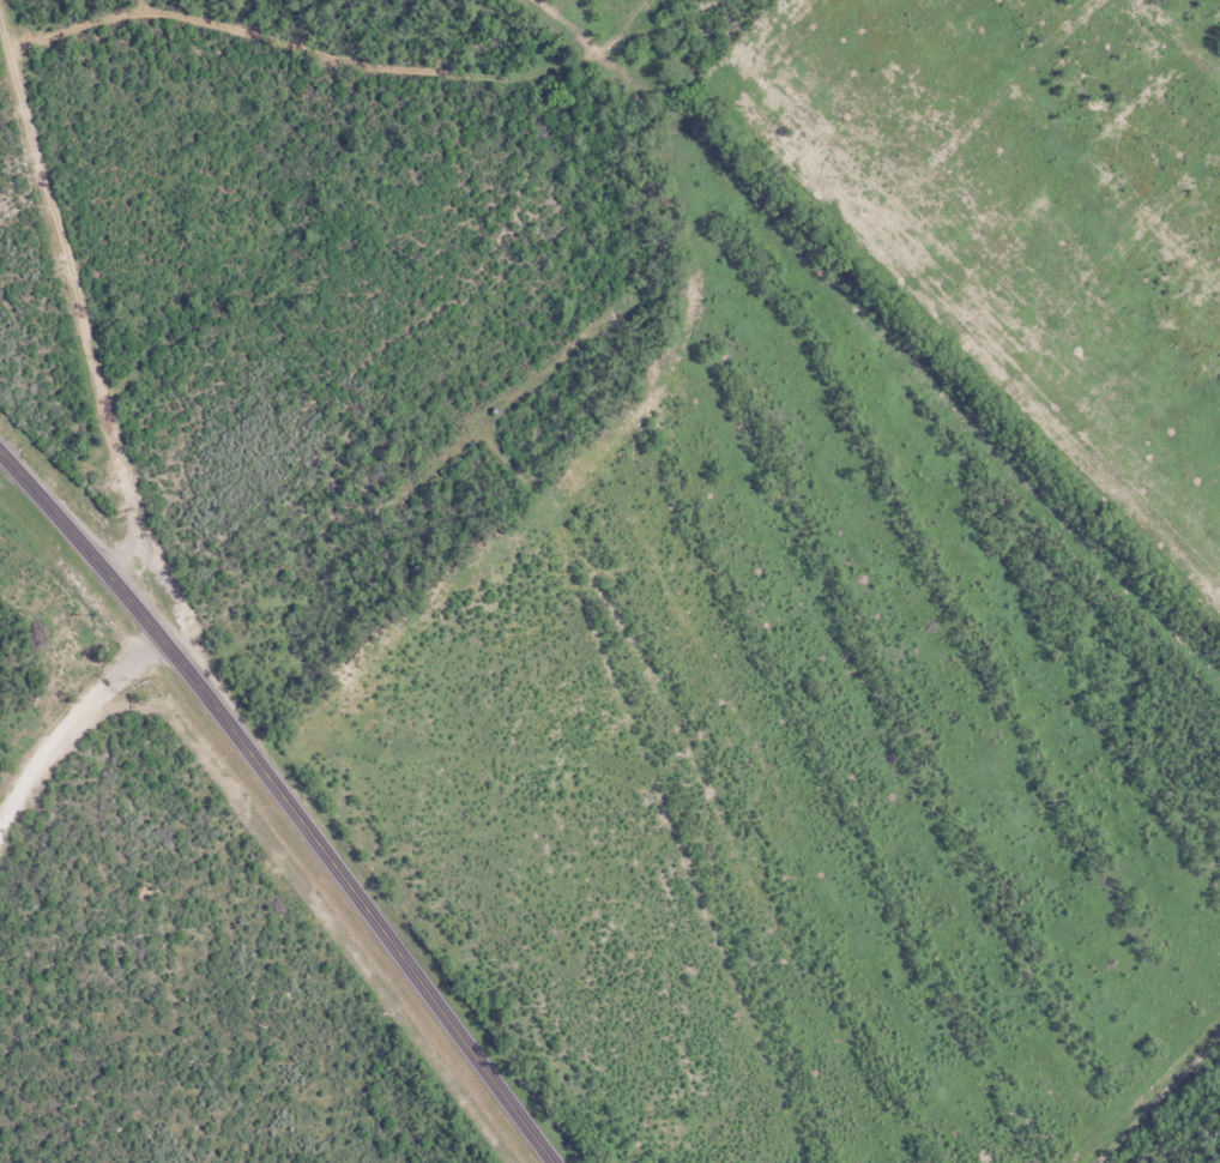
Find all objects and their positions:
road: (84, 348)
road: (84, 755)
road: (284, 802)

